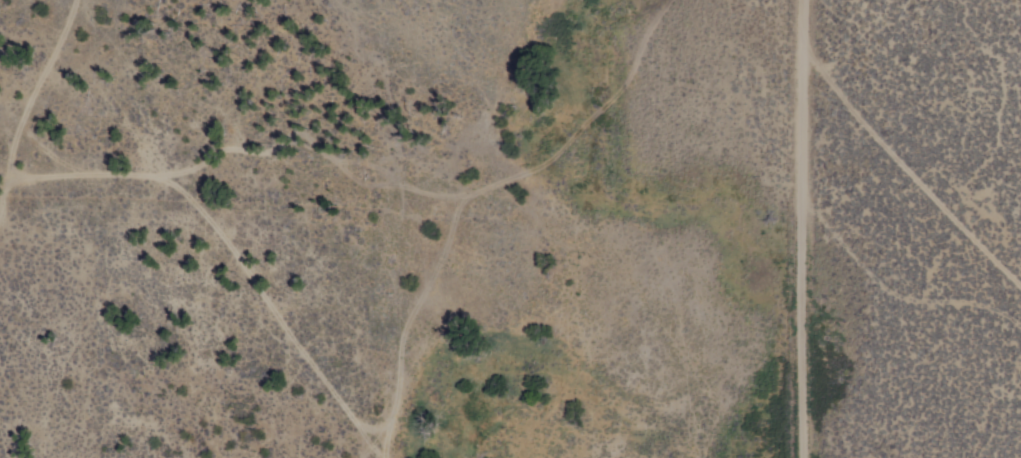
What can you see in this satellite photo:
road: (913, 166)
road: (803, 228)
road: (898, 291)

